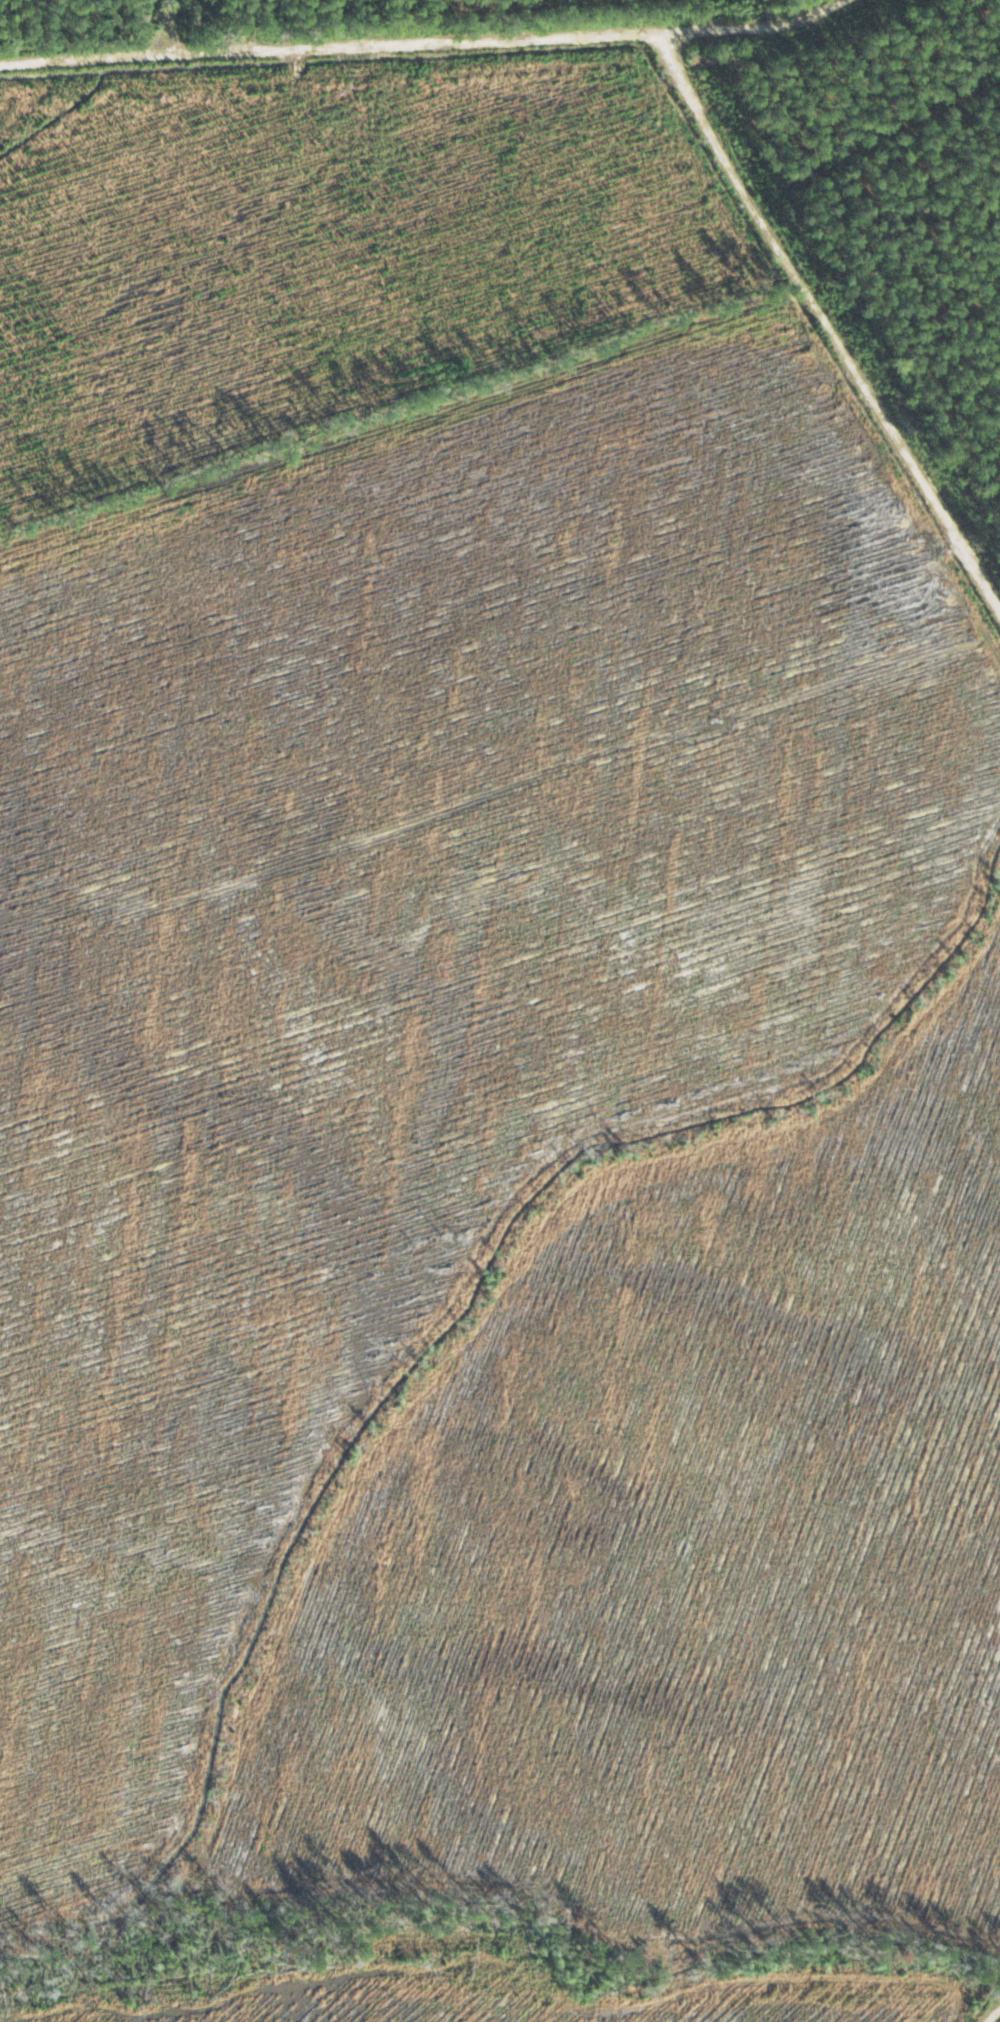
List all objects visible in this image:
road: (362, 27)
road: (952, 514)
road: (998, 2020)

